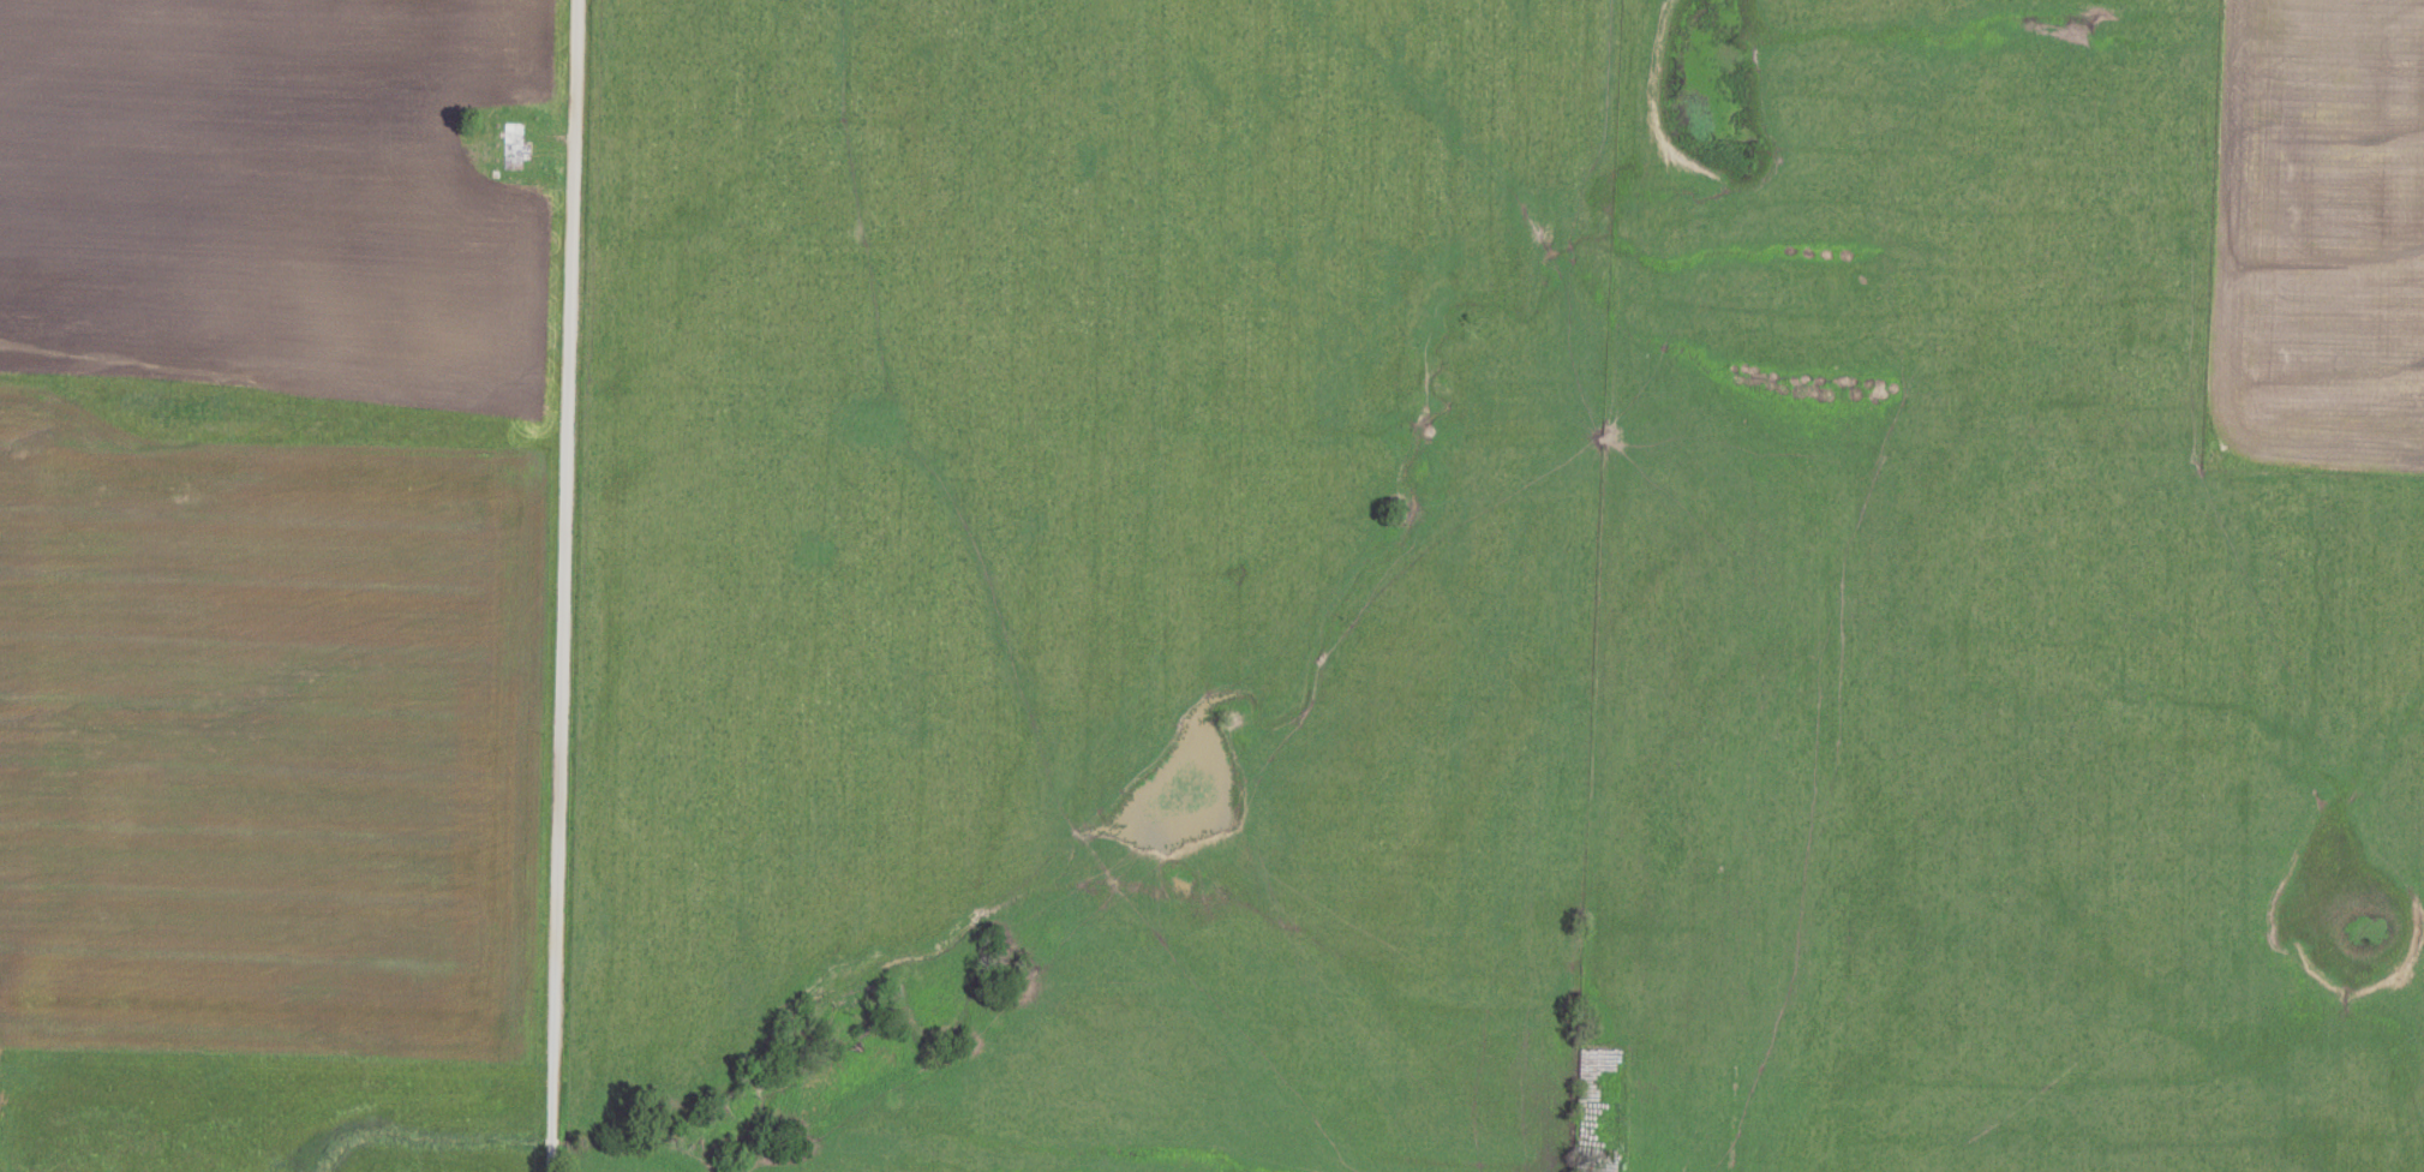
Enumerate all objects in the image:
building: (516, 145)
crop: (280, 219)
crop: (2321, 235)
road: (533, 586)
crop: (273, 743)

